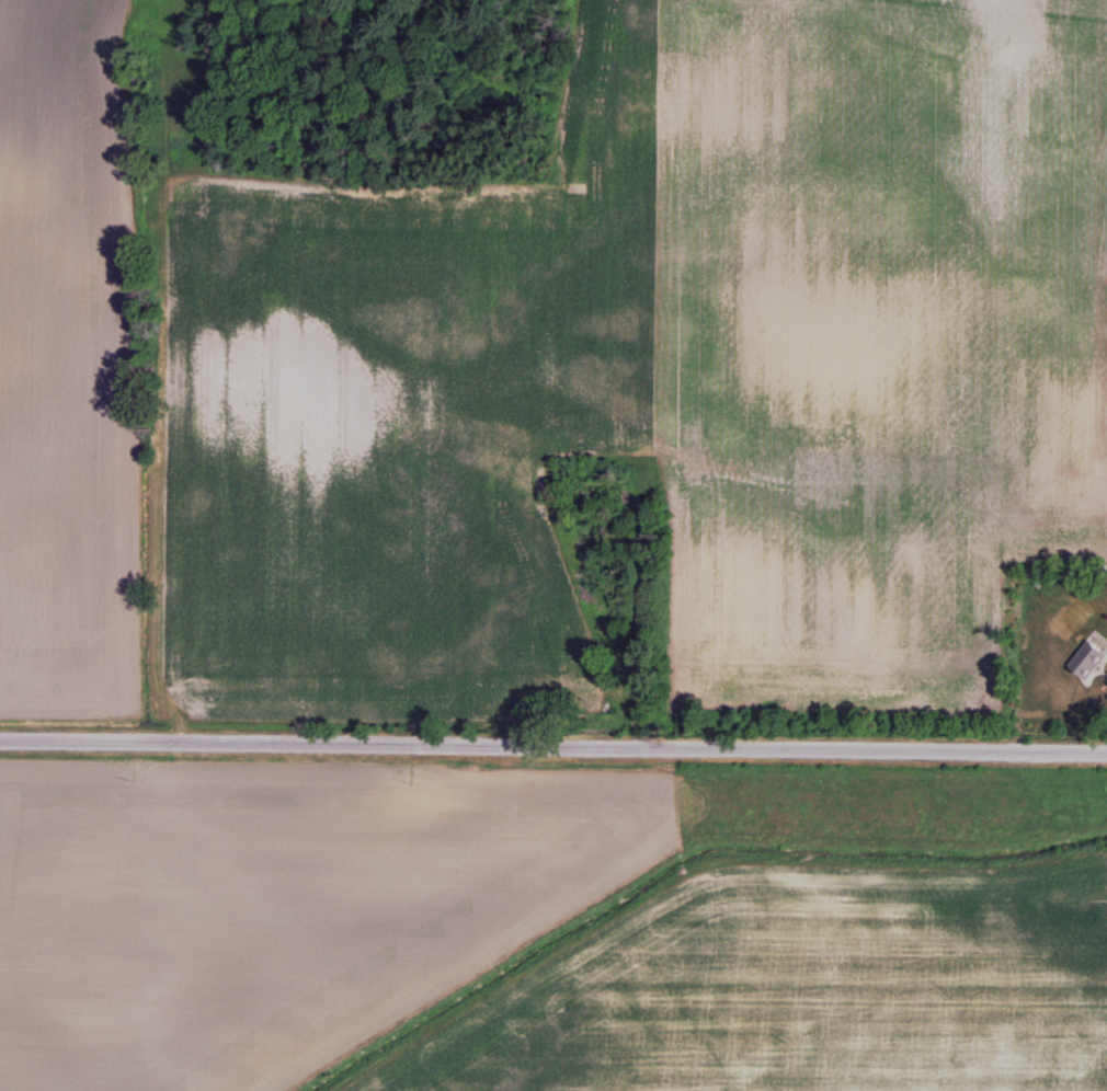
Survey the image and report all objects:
road: (553, 740)

